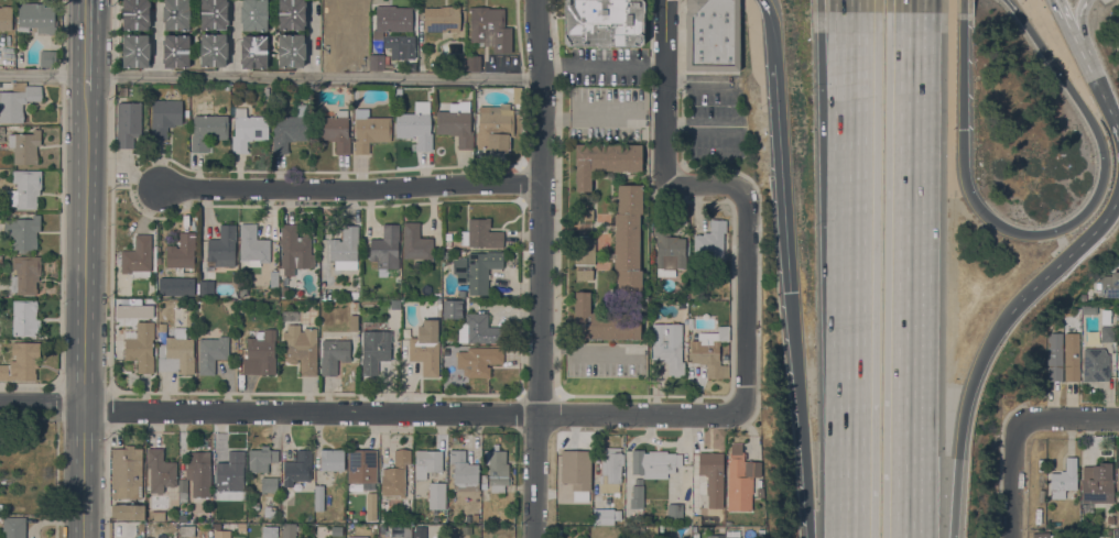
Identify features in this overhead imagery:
road: (1082, 4)
building: (214, 13)
road: (1067, 13)
building: (135, 14)
building: (176, 14)
building: (253, 14)
building: (292, 14)
road: (772, 15)
building: (6, 18)
building: (35, 18)
building: (442, 18)
road: (1076, 19)
building: (392, 20)
building: (346, 21)
building: (604, 23)
building: (490, 29)
building: (711, 35)
road: (87, 44)
road: (851, 48)
building: (213, 50)
building: (291, 50)
building: (135, 51)
building: (176, 51)
building: (253, 51)
building: (1117, 51)
road: (1085, 53)
building: (46, 58)
building: (377, 62)
building: (457, 63)
building: (472, 63)
road: (604, 65)
road: (271, 77)
road: (666, 92)
building: (398, 94)
building: (517, 95)
building: (17, 99)
road: (1108, 99)
road: (735, 103)
building: (164, 117)
building: (456, 122)
building: (128, 123)
building: (415, 125)
building: (495, 127)
traffic signals: (963, 128)
building: (290, 129)
building: (247, 130)
building: (334, 130)
building: (370, 130)
building: (208, 131)
building: (1, 133)
building: (24, 146)
building: (605, 161)
road: (785, 163)
road: (706, 186)
building: (24, 189)
road: (351, 190)
road: (1047, 231)
building: (22, 232)
building: (481, 234)
building: (448, 235)
building: (710, 239)
building: (627, 241)
building: (415, 242)
building: (447, 244)
building: (584, 244)
building: (253, 245)
building: (222, 246)
building: (294, 248)
building: (345, 249)
building: (385, 250)
building: (669, 250)
building: (182, 254)
building: (0, 257)
building: (138, 257)
road: (1067, 261)
road: (540, 268)
road: (859, 268)
road: (903, 268)
building: (476, 270)
building: (25, 274)
building: (1109, 284)
building: (205, 286)
building: (242, 288)
building: (284, 292)
traffic signals: (794, 293)
building: (355, 295)
road: (748, 301)
building: (453, 308)
building: (1089, 310)
road: (84, 312)
building: (120, 314)
building: (352, 314)
building: (1106, 316)
building: (1118, 317)
building: (22, 319)
building: (602, 321)
building: (161, 327)
building: (478, 329)
building: (1107, 333)
building: (140, 345)
building: (669, 347)
building: (301, 348)
building: (425, 348)
building: (709, 351)
building: (175, 353)
building: (211, 353)
building: (260, 353)
building: (334, 354)
building: (373, 354)
building: (1054, 355)
building: (1072, 356)
building: (480, 359)
building: (21, 361)
building: (1095, 364)
building: (1118, 366)
road: (974, 382)
road: (42, 402)
road: (802, 402)
road: (415, 415)
road: (1069, 417)
building: (261, 458)
building: (332, 459)
building: (427, 461)
building: (579, 461)
building: (654, 463)
building: (611, 464)
building: (361, 465)
building: (297, 468)
building: (497, 468)
building: (161, 470)
building: (228, 470)
building: (199, 472)
building: (464, 472)
building: (395, 474)
building: (713, 476)
road: (1012, 477)
building: (740, 479)
building: (1064, 479)
building: (1117, 479)
building: (484, 481)
building: (127, 482)
building: (1097, 483)
building: (269, 484)
building: (183, 490)
building: (637, 494)
building: (436, 495)
building: (318, 497)
road: (950, 497)
building: (253, 505)
building: (371, 506)
building: (269, 510)
building: (674, 510)
building: (157, 515)
building: (606, 515)
building: (696, 518)
building: (1117, 518)
road: (813, 524)
building: (13, 527)
building: (240, 527)
building: (289, 530)
building: (337, 530)
building: (419, 530)
building: (268, 531)
building: (399, 531)
building: (450, 532)
building: (221, 534)
building: (731, 534)
building: (1040, 535)
building: (1072, 535)
building: (715, 536)
building: (148, 537)
building: (357, 537)

